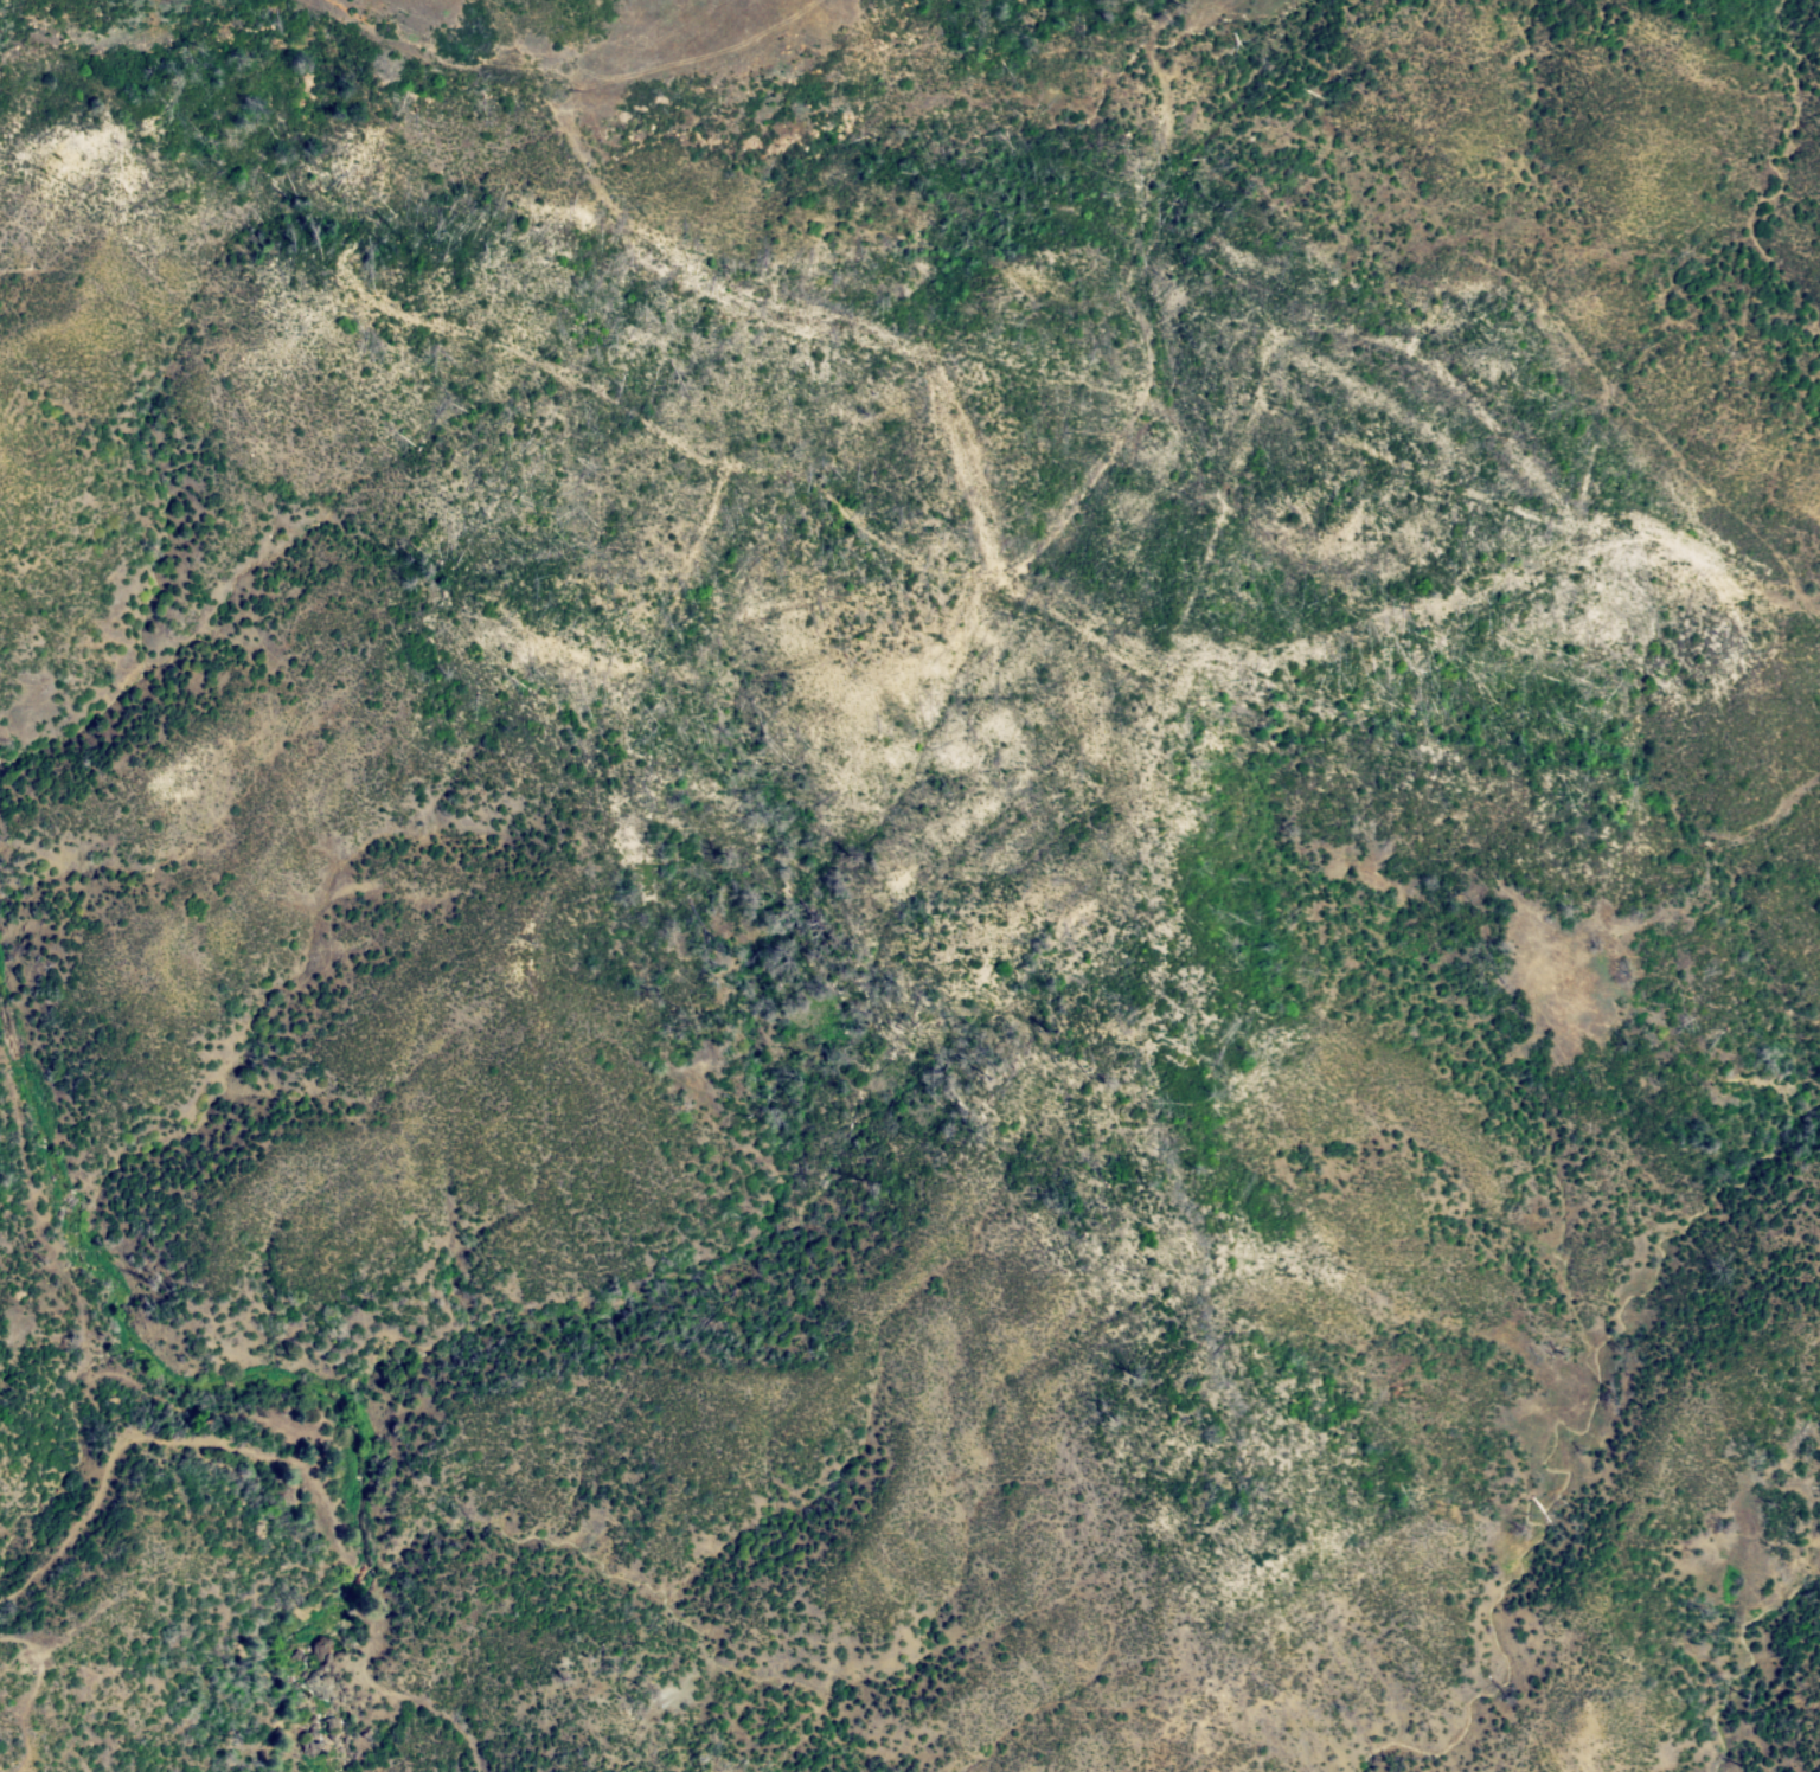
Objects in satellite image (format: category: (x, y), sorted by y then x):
road: (1123, 634)
road: (306, 1464)
road: (34, 1691)

